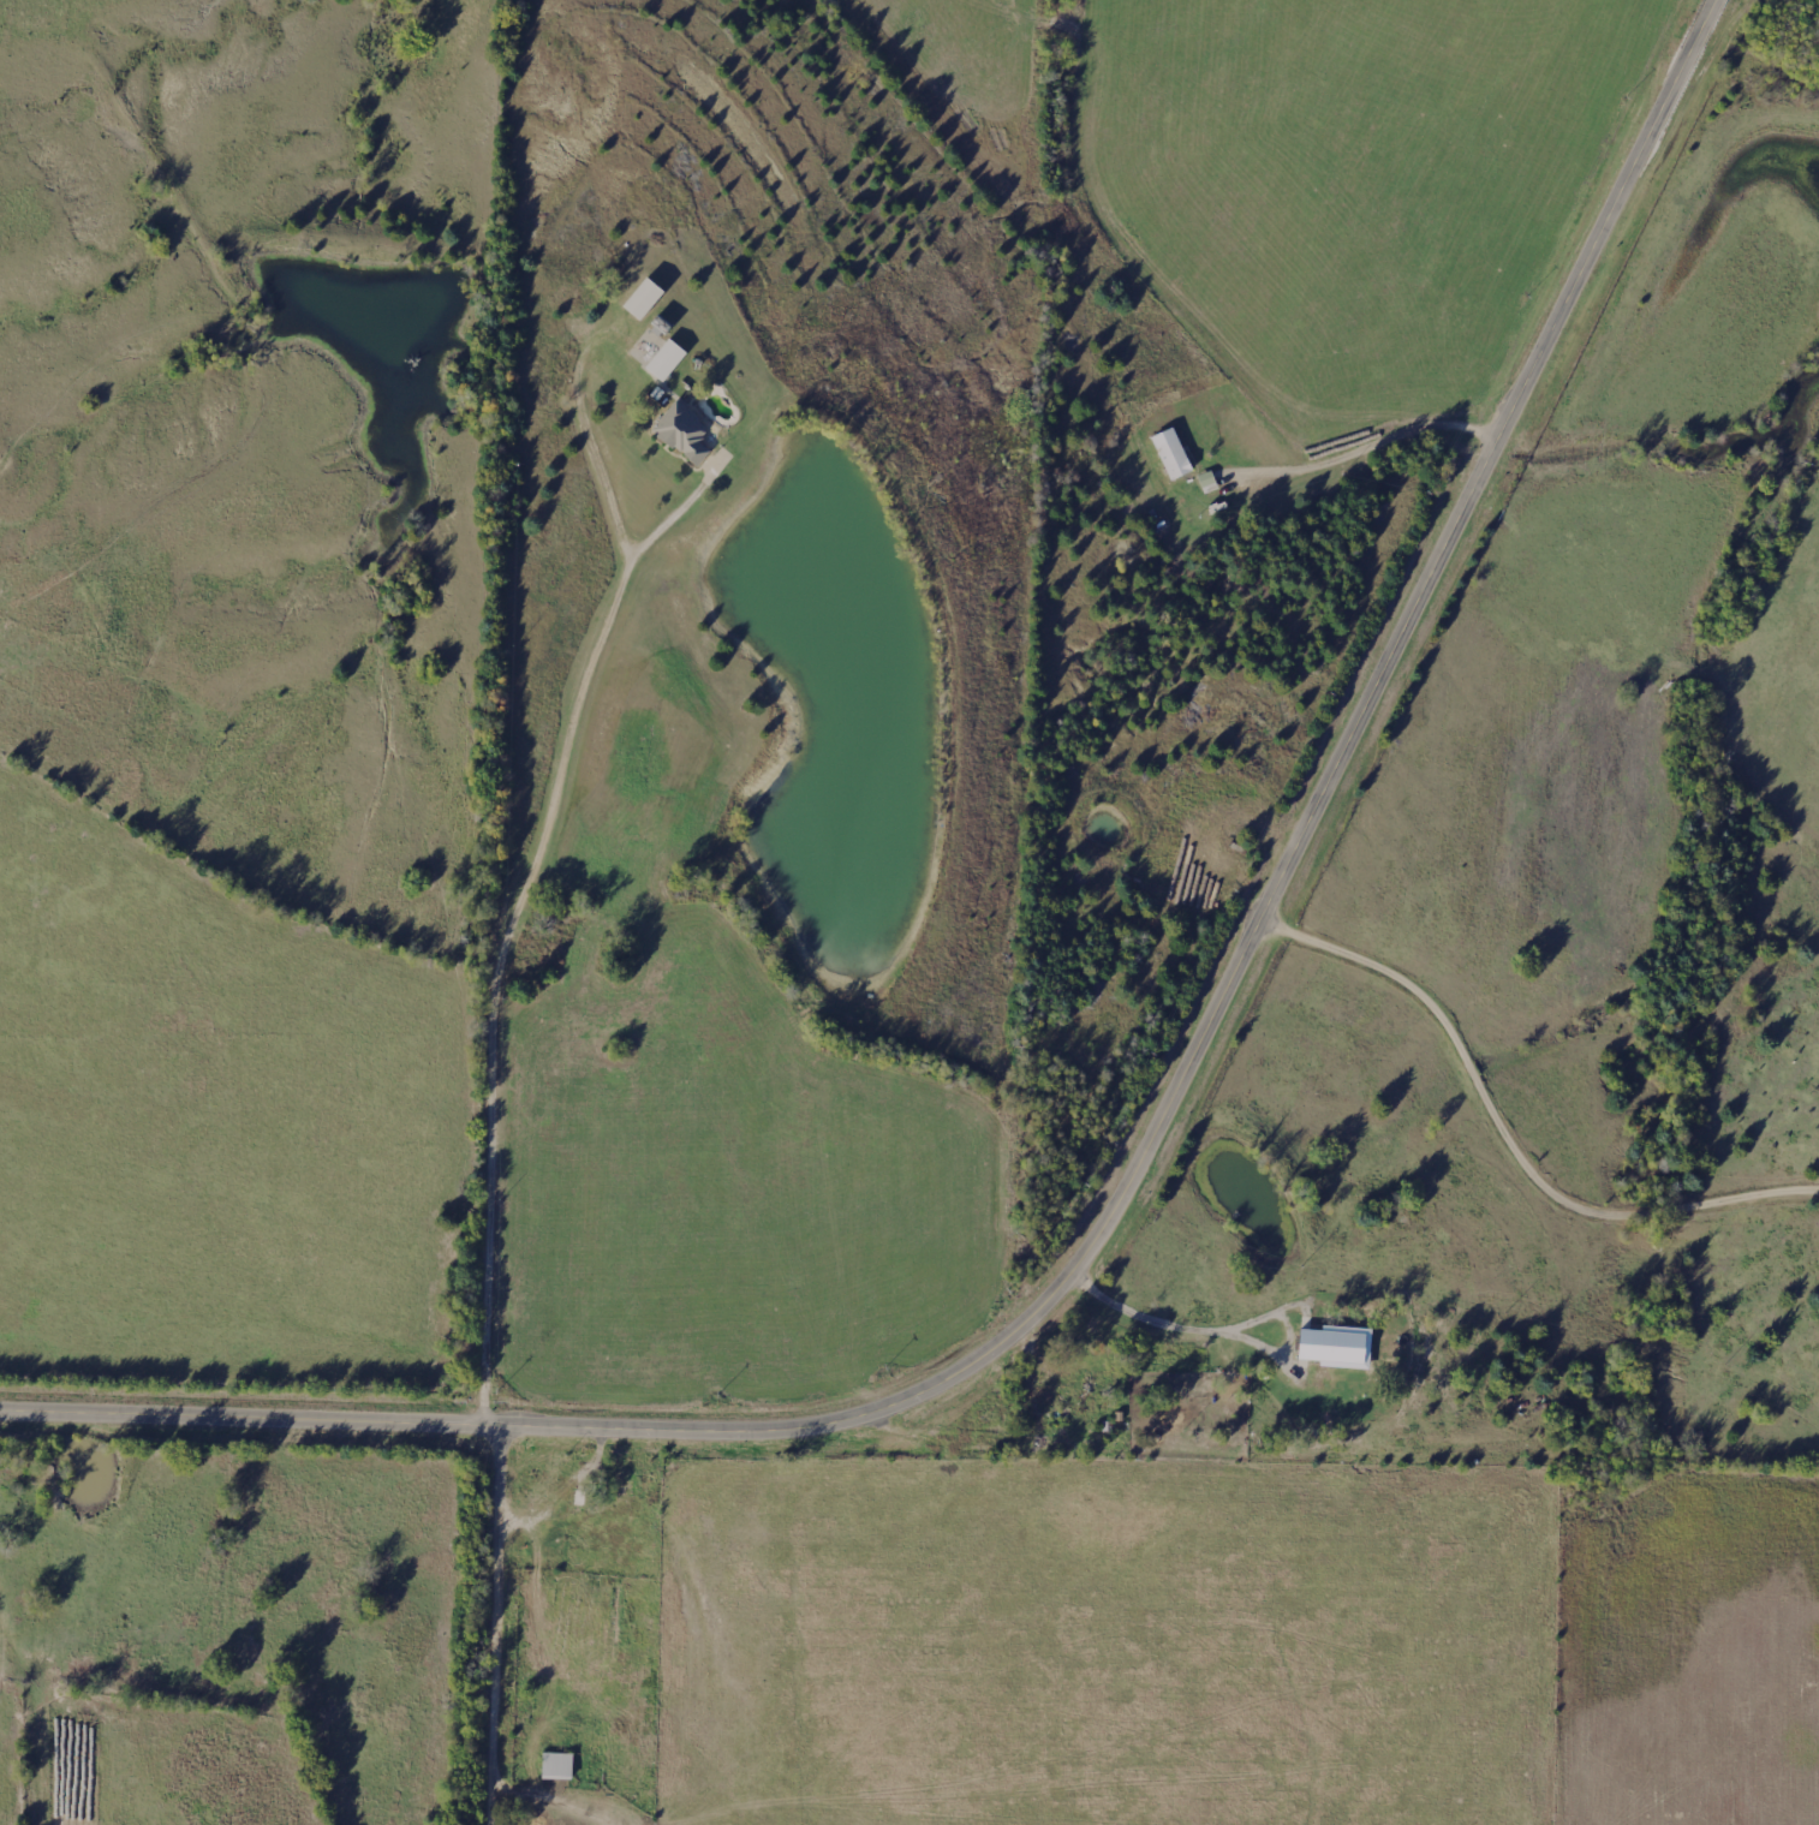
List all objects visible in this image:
building: (644, 299)
building: (667, 360)
building: (685, 434)
building: (1173, 455)
building: (1209, 483)
road: (1155, 1144)
road: (490, 1193)
building: (1337, 1348)
road: (500, 1623)
building: (557, 1767)

